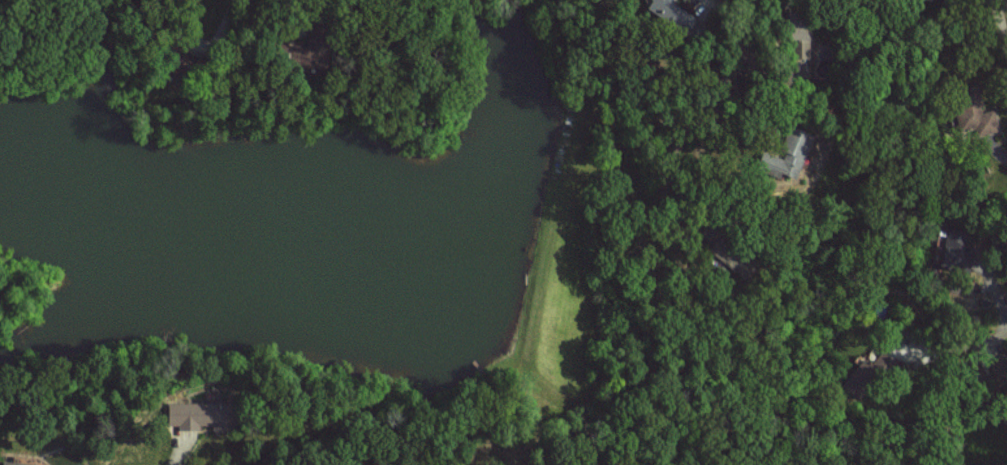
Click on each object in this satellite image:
building: (665, 8)
road: (261, 10)
road: (1000, 20)
road: (719, 82)
building: (977, 119)
building: (793, 152)
building: (954, 247)
road: (956, 353)
building: (873, 368)
building: (200, 415)
building: (18, 463)

